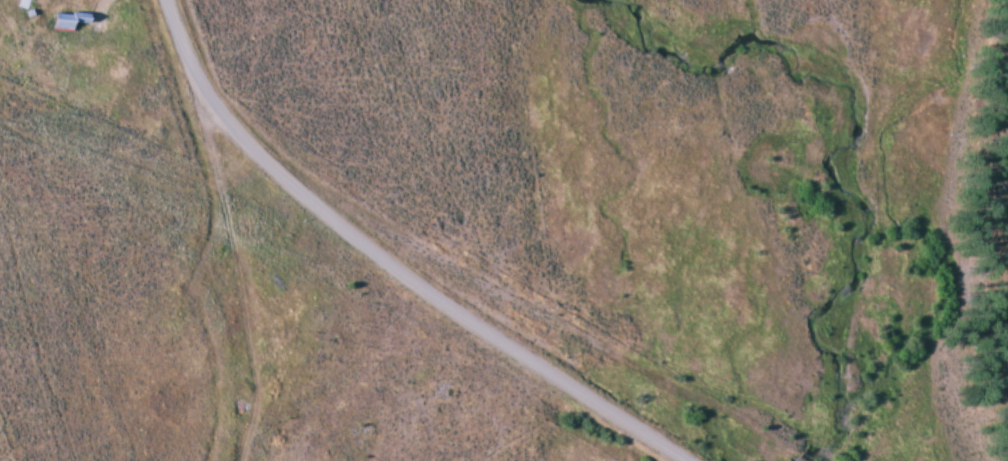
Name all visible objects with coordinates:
building: (65, 20)
road: (235, 263)
road: (392, 264)

